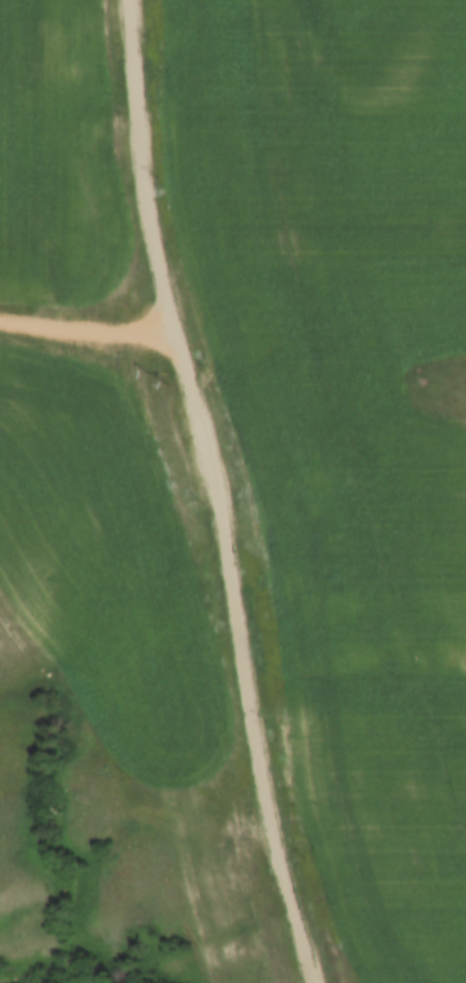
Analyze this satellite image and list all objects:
road: (90, 322)
road: (217, 489)

